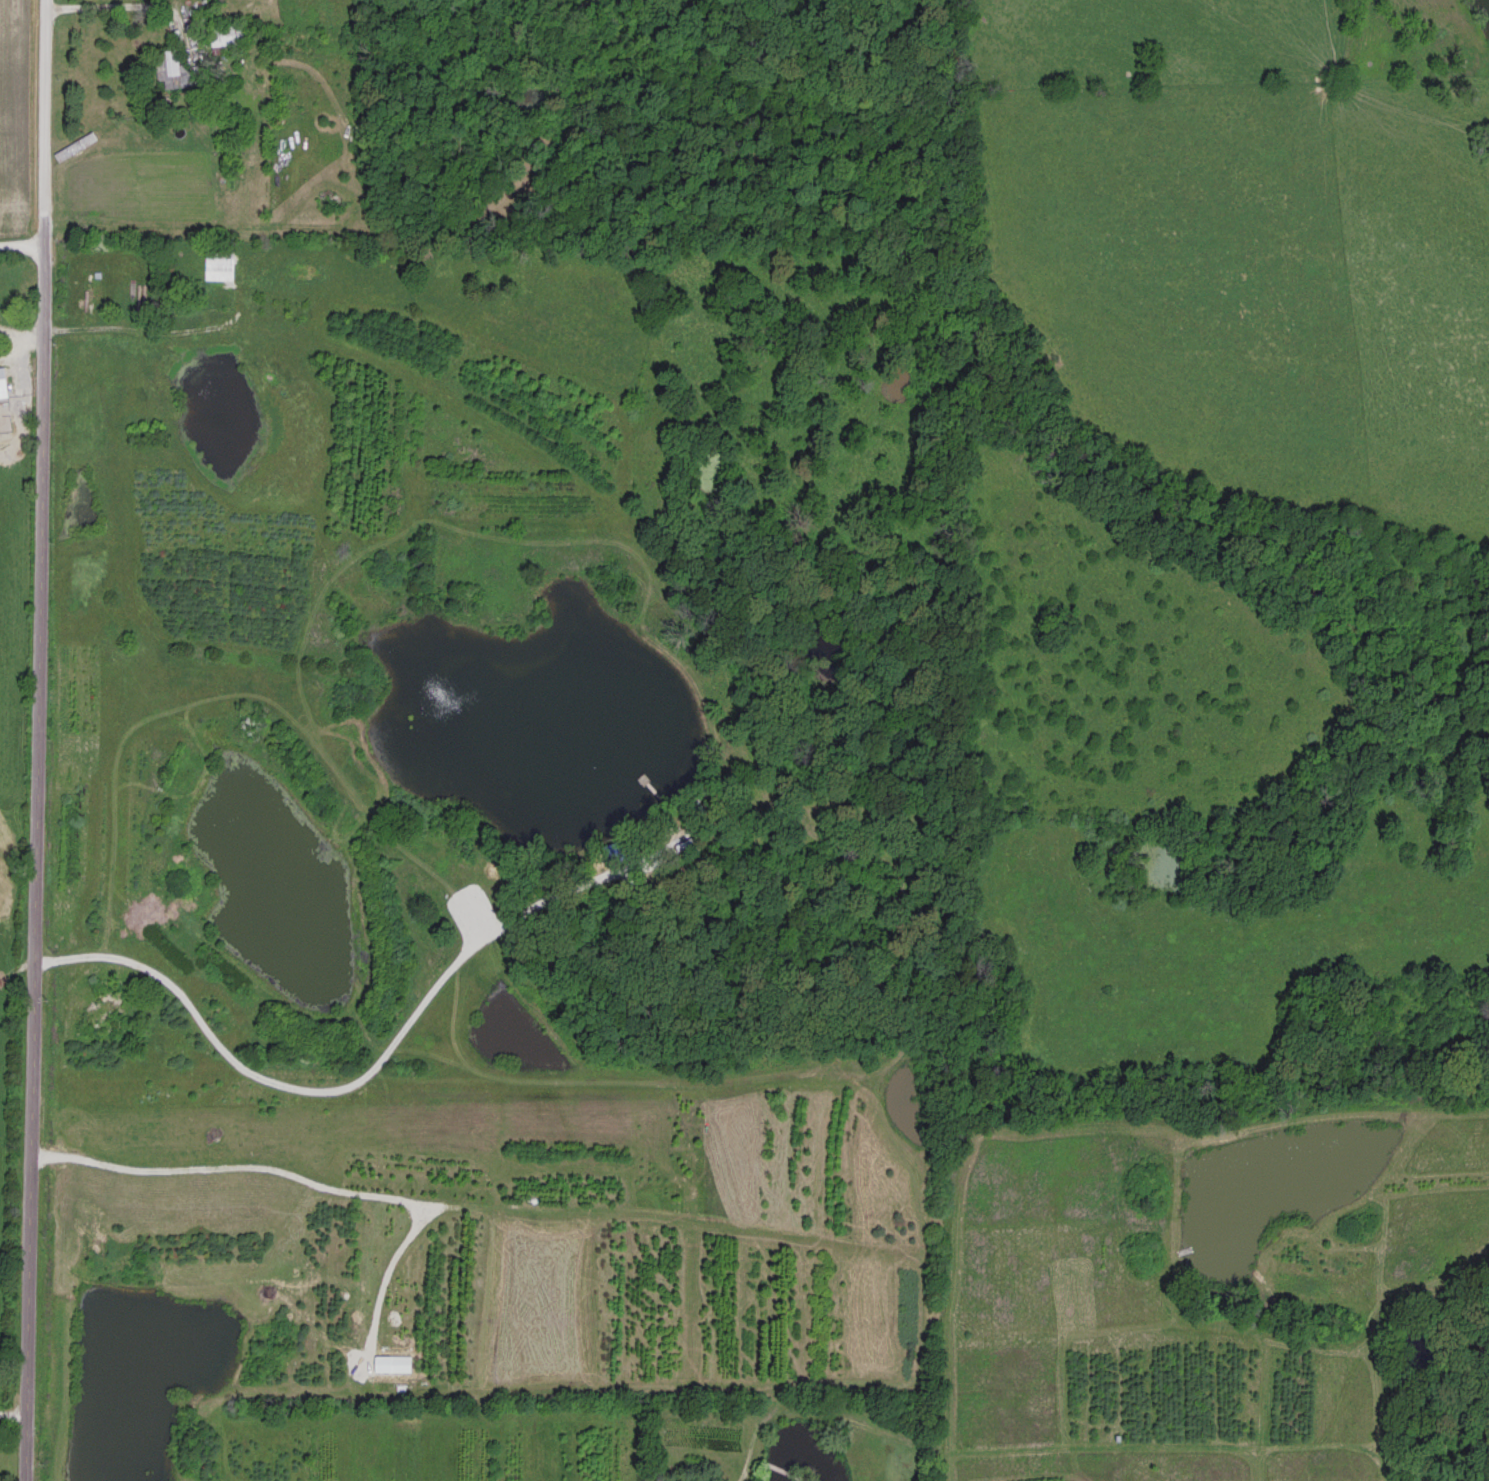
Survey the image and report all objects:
road: (105, 6)
building: (228, 32)
building: (174, 69)
road: (22, 246)
building: (220, 261)
building: (5, 290)
building: (88, 291)
building: (294, 373)
building: (3, 380)
road: (36, 740)
road: (12, 1410)
road: (1047, 1446)

